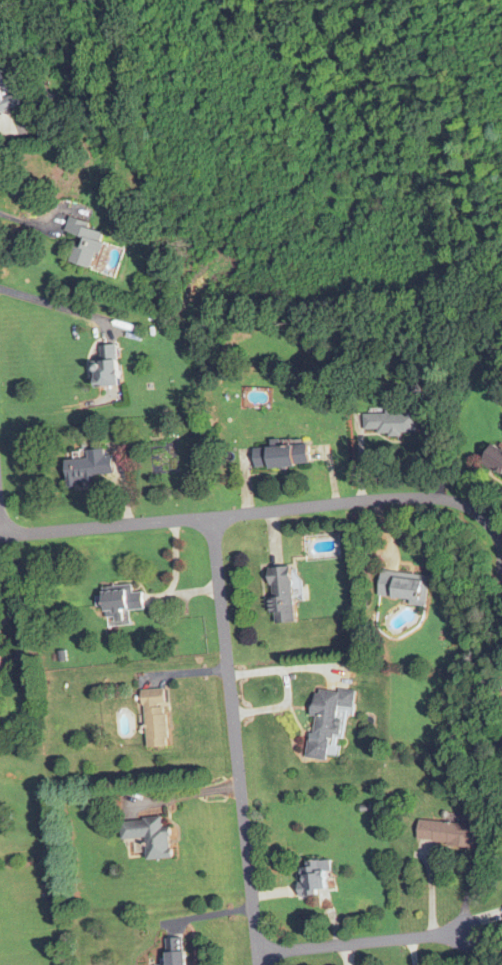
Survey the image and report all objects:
building: (8, 95)
road: (38, 99)
road: (27, 221)
building: (88, 241)
road: (54, 304)
building: (108, 365)
building: (390, 422)
road: (205, 454)
building: (282, 455)
building: (493, 457)
building: (89, 466)
road: (259, 512)
building: (405, 586)
building: (282, 593)
building: (123, 599)
building: (2, 664)
building: (159, 718)
building: (328, 720)
road: (234, 741)
building: (447, 832)
building: (151, 837)
building: (317, 876)
road: (362, 943)
building: (178, 951)

